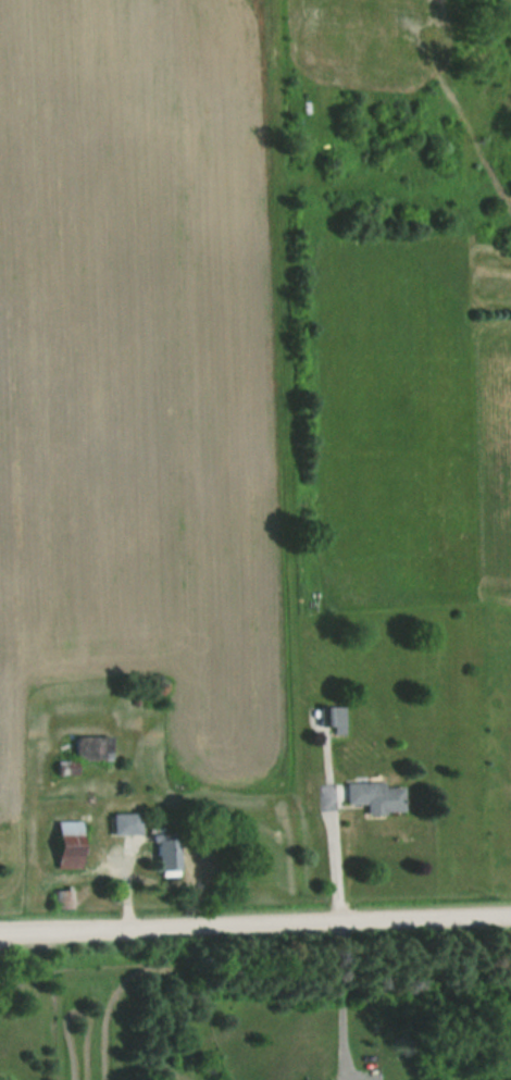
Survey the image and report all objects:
building: (65, 704)
building: (88, 748)
building: (57, 770)
building: (370, 796)
building: (122, 822)
building: (61, 844)
building: (161, 856)
road: (334, 865)
road: (123, 894)
road: (255, 929)
road: (341, 997)

